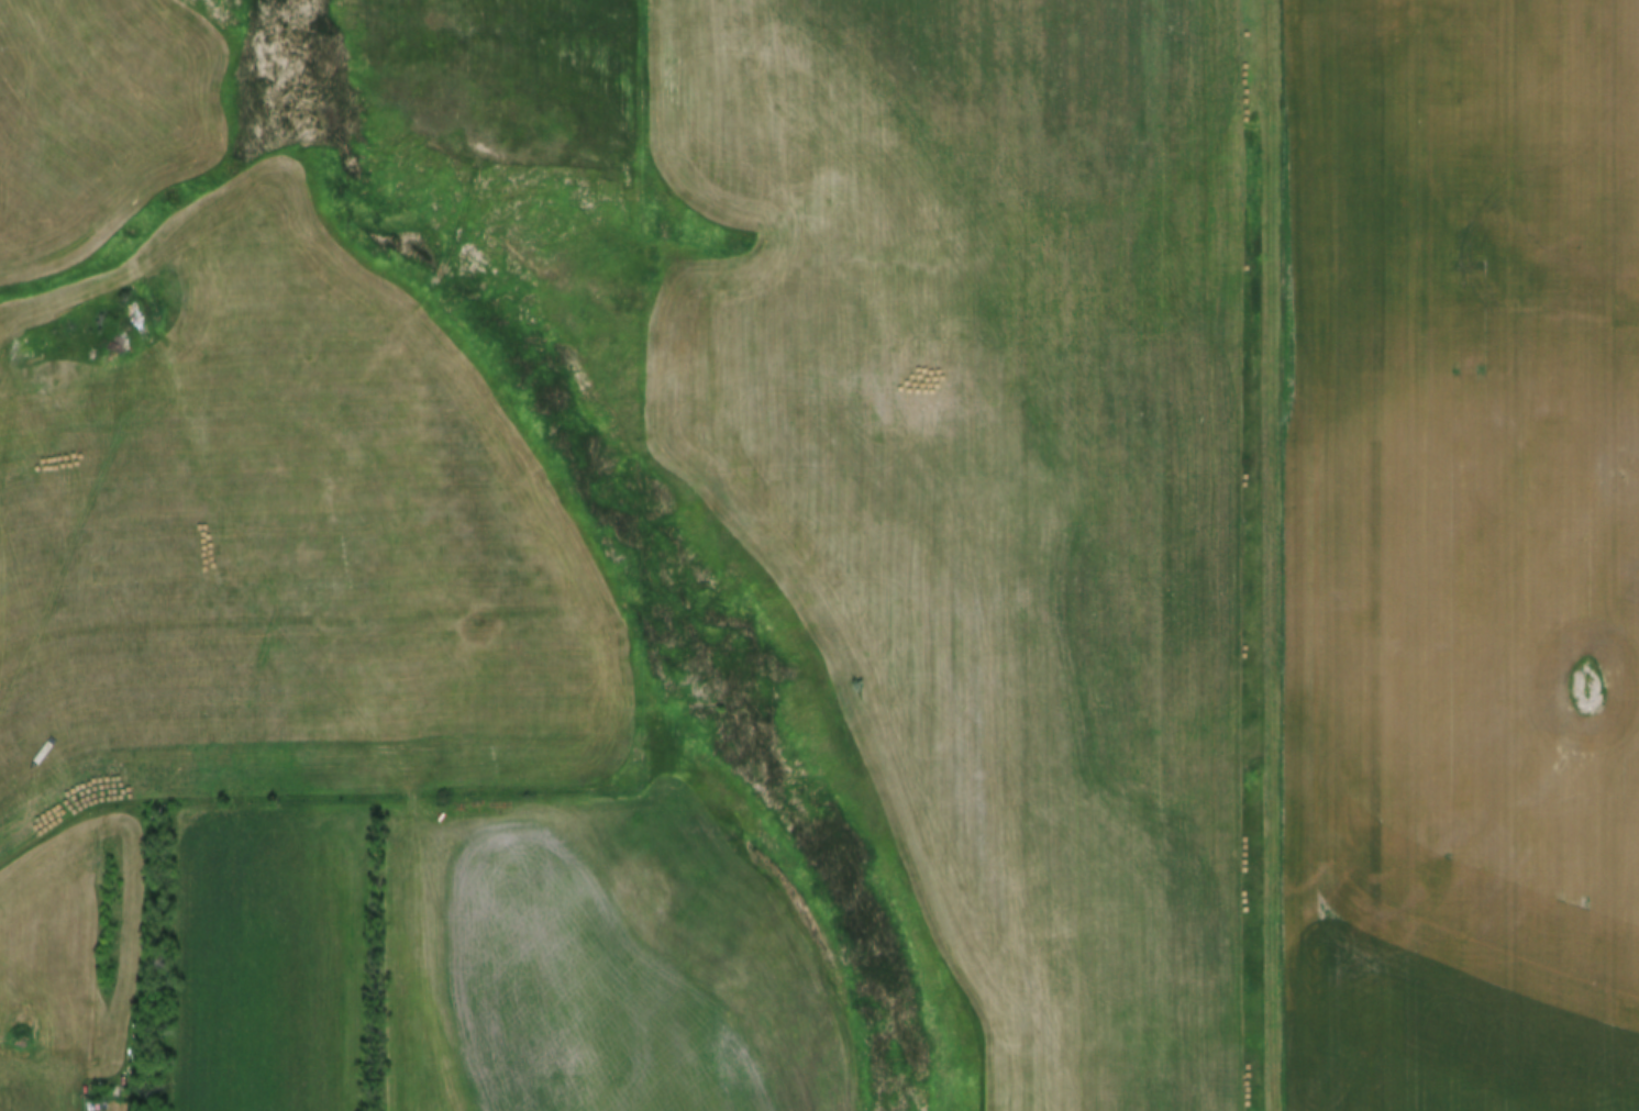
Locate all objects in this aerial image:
road: (1273, 555)

